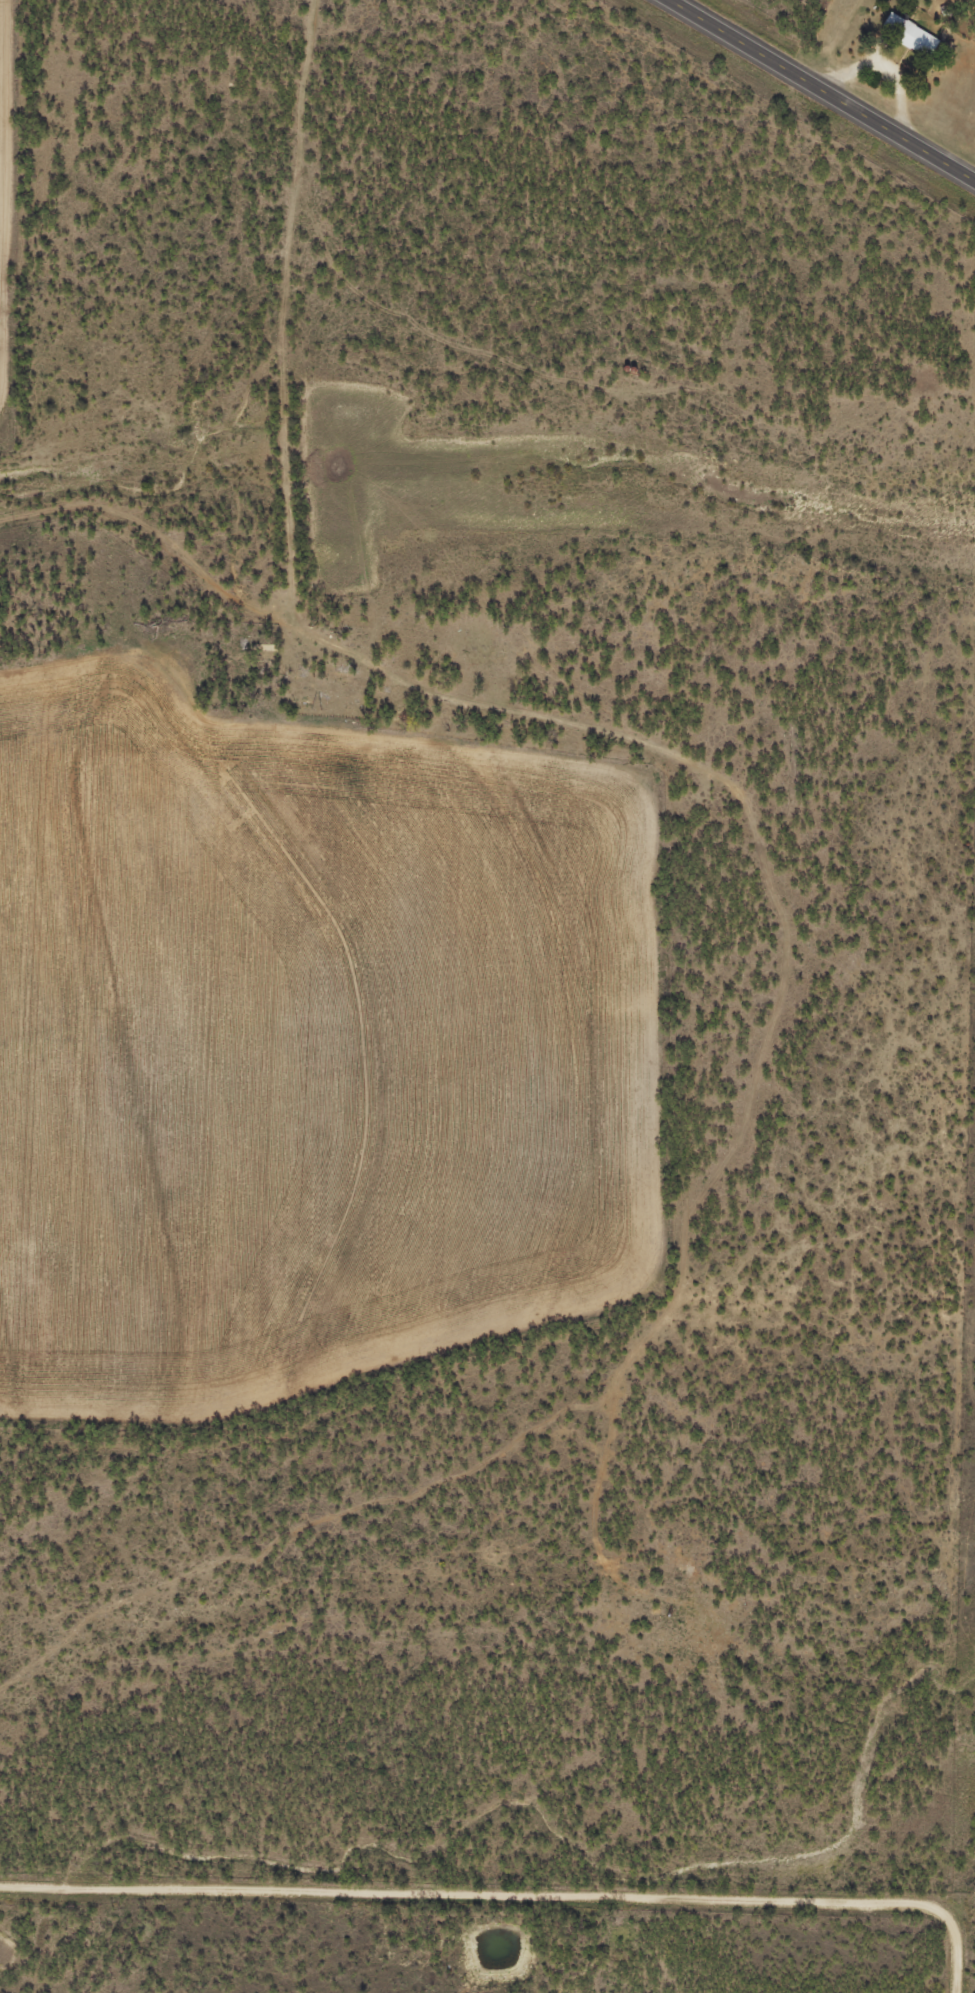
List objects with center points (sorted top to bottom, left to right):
building: (915, 37)
road: (818, 92)
road: (513, 1896)

